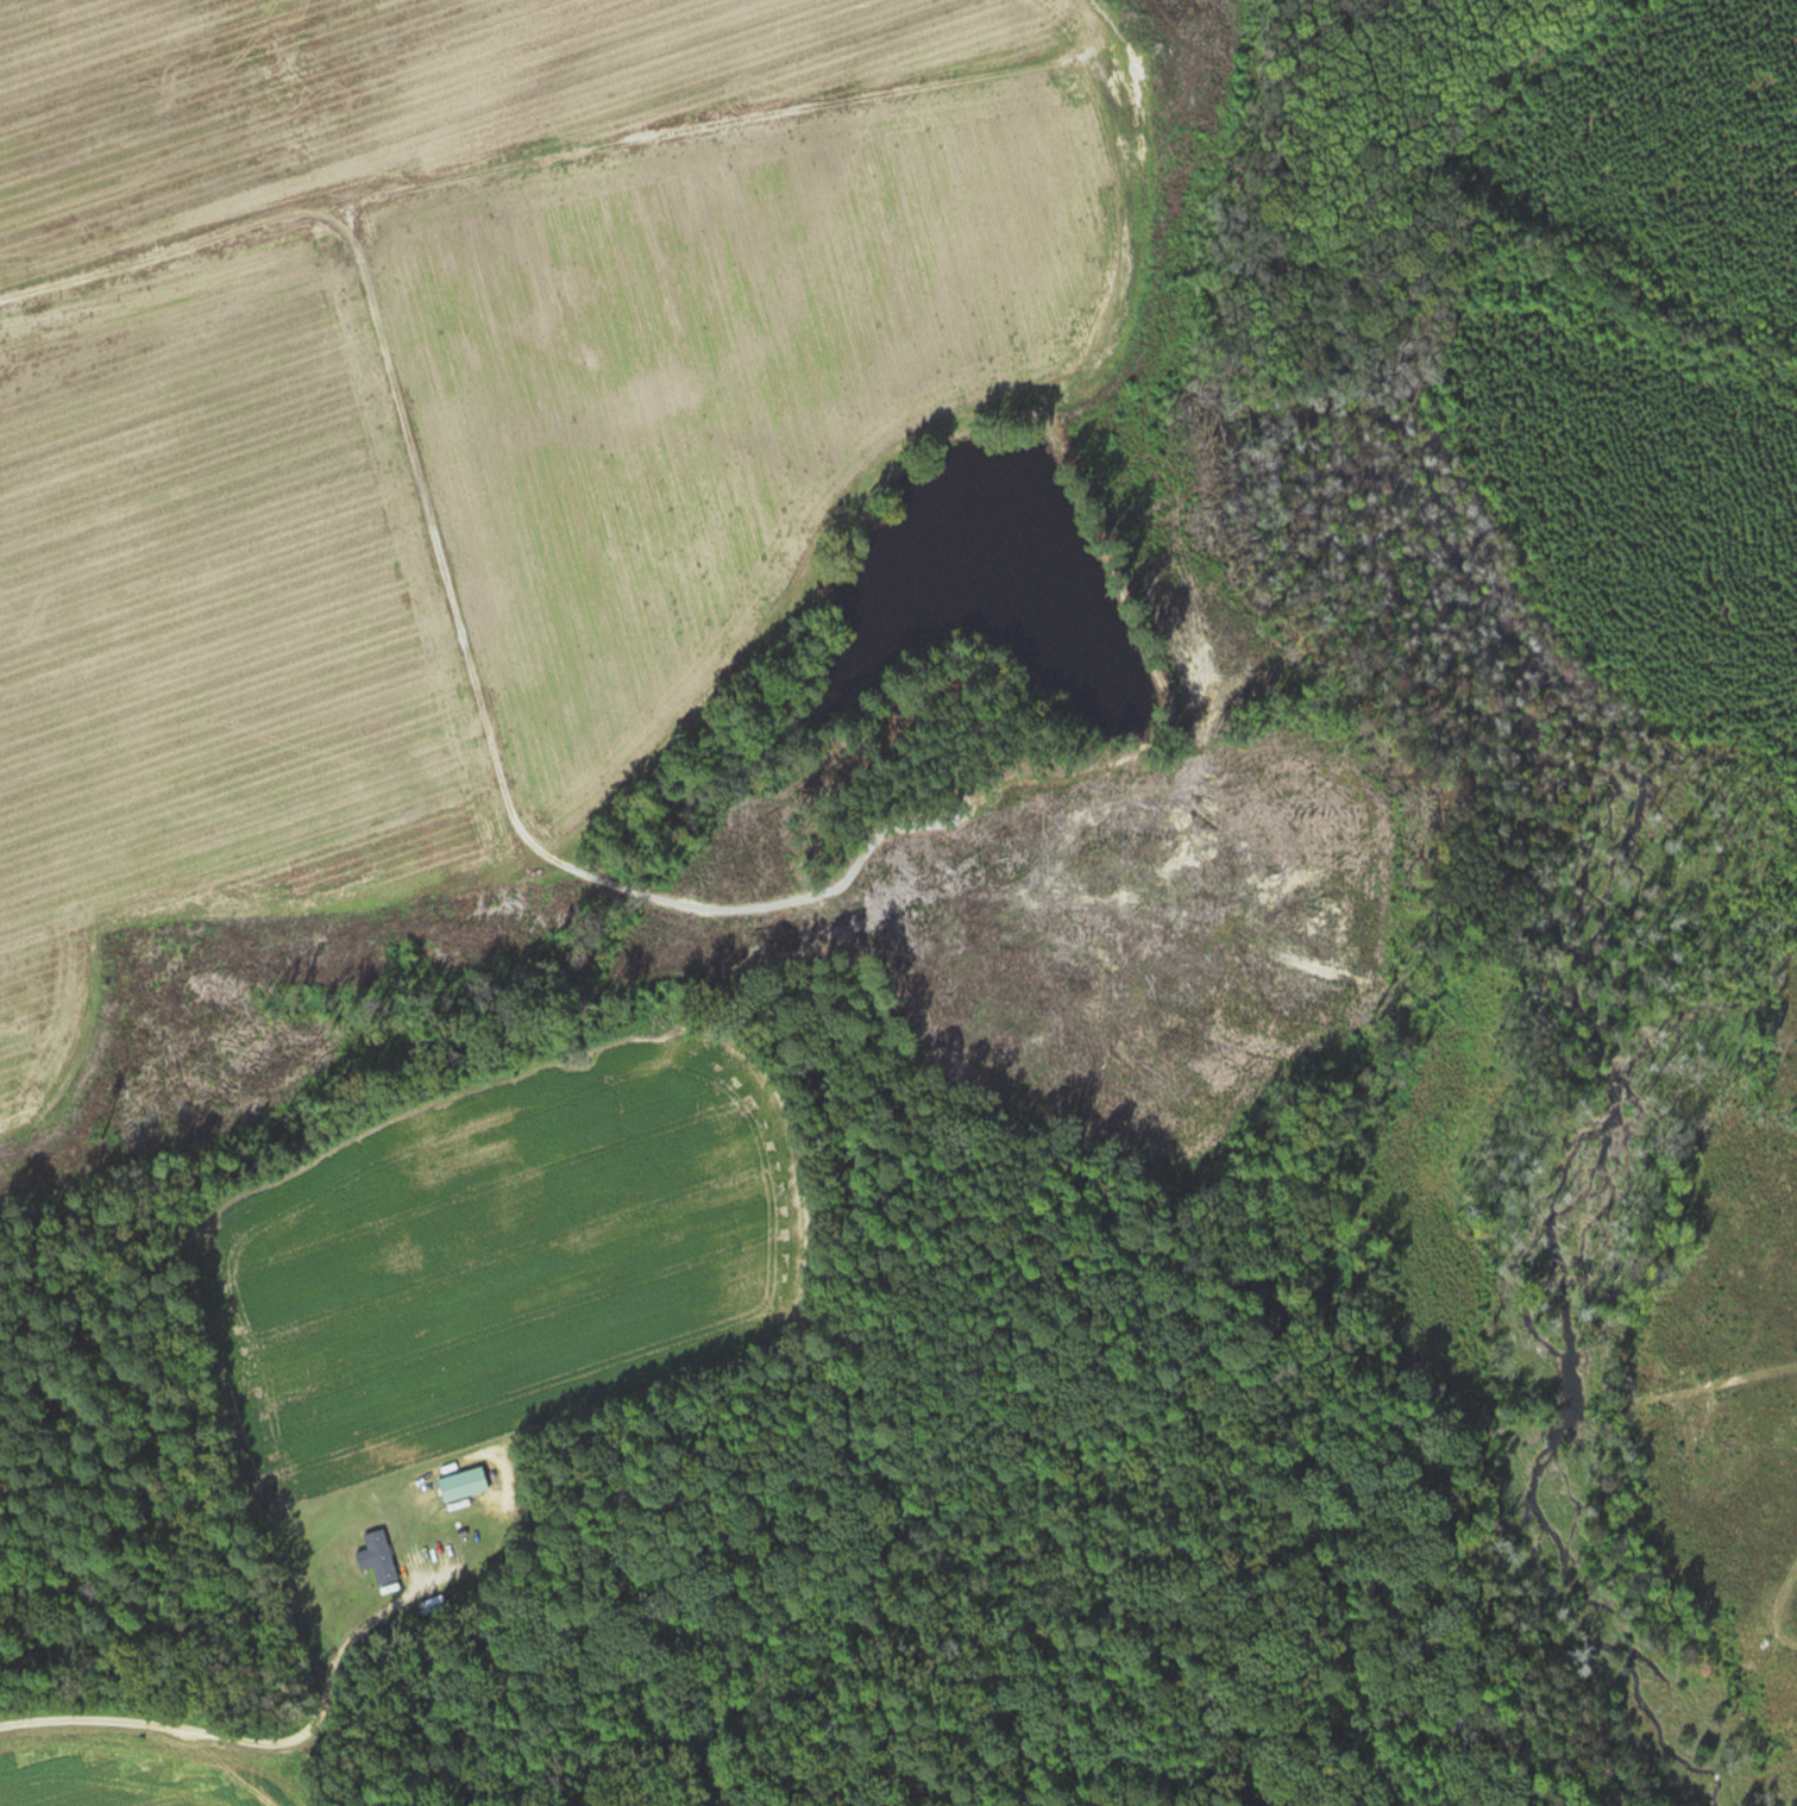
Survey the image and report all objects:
building: (379, 1557)

